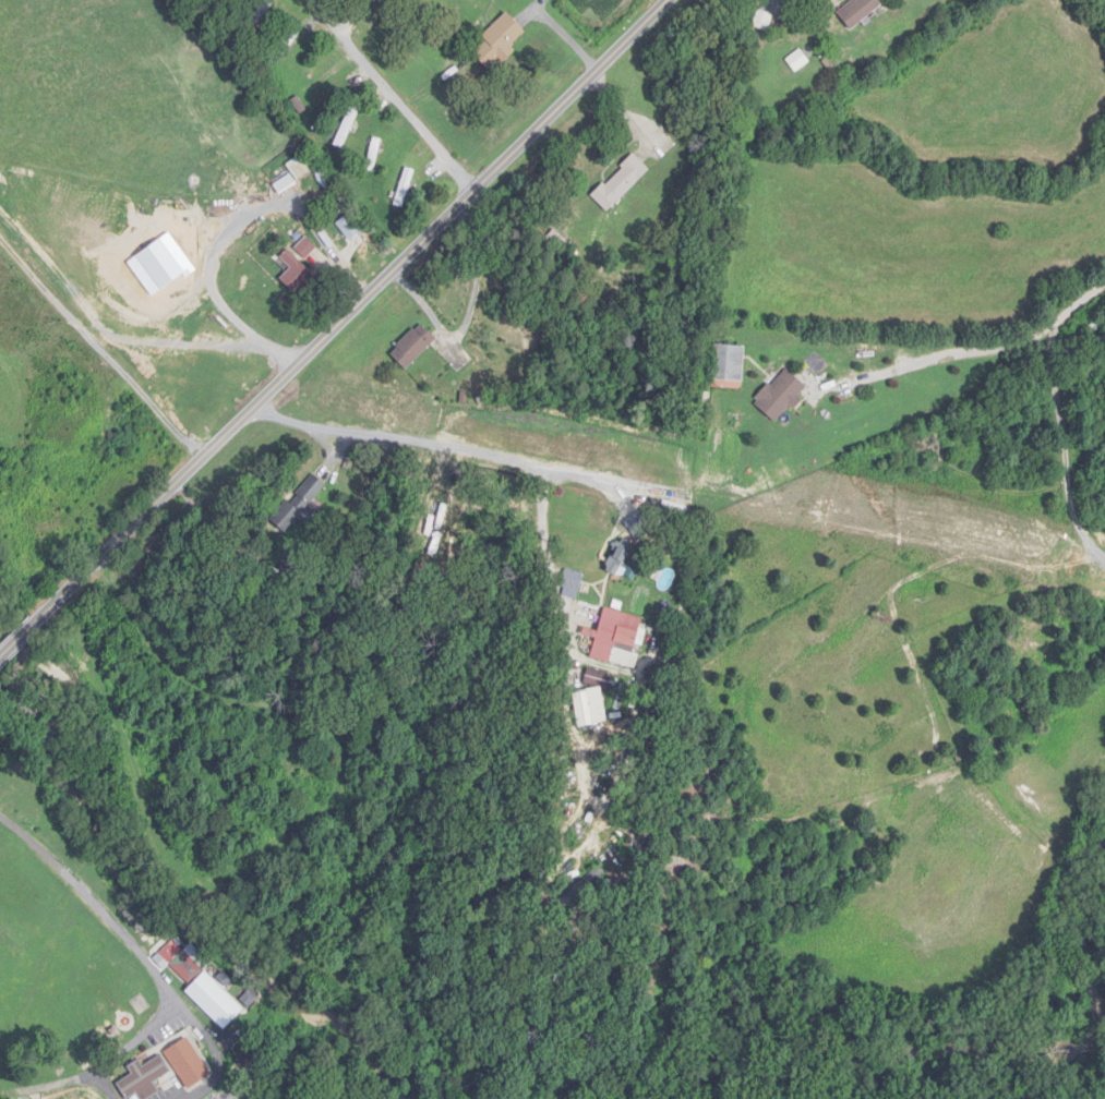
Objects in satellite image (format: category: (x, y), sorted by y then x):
building: (858, 11)
building: (260, 16)
road: (357, 16)
building: (500, 39)
building: (287, 44)
road: (393, 94)
building: (347, 126)
building: (374, 155)
building: (301, 166)
building: (326, 181)
building: (622, 182)
building: (405, 186)
building: (349, 227)
building: (307, 247)
building: (296, 273)
road: (466, 317)
road: (334, 329)
building: (413, 346)
building: (726, 366)
building: (781, 394)
road: (1062, 416)
building: (576, 442)
road: (410, 443)
building: (644, 458)
building: (300, 503)
road: (548, 556)
building: (573, 579)
building: (617, 637)
building: (600, 678)
building: (582, 886)
road: (105, 906)
building: (142, 1006)
road: (201, 1027)
road: (127, 1046)
building: (188, 1063)
road: (217, 1073)
building: (144, 1078)

